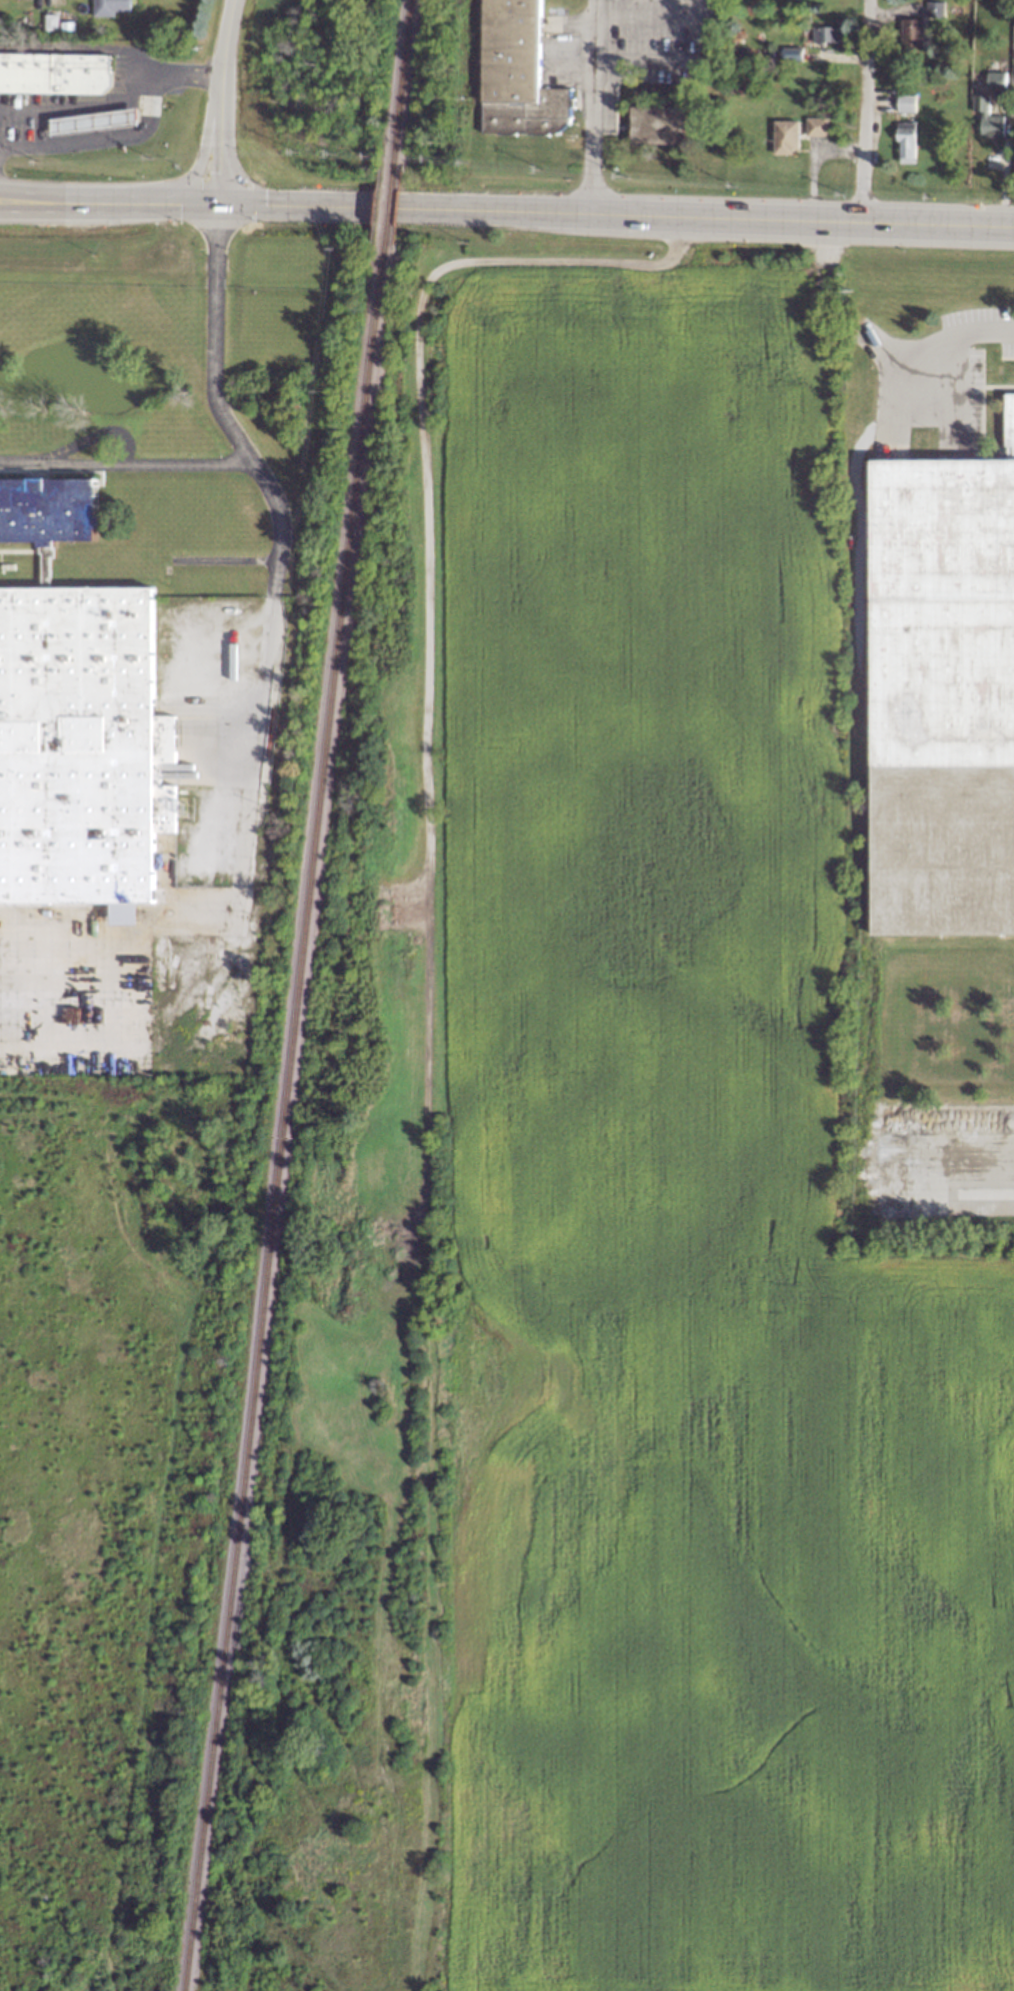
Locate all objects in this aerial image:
building: (110, 7)
building: (934, 9)
building: (51, 22)
building: (827, 34)
building: (912, 34)
road: (230, 37)
road: (81, 49)
building: (516, 72)
building: (54, 73)
road: (158, 75)
building: (996, 80)
railway: (401, 86)
building: (906, 103)
road: (81, 107)
road: (585, 107)
road: (868, 111)
parking lot: (52, 112)
building: (987, 118)
building: (94, 122)
gas station: (94, 122)
building: (657, 125)
building: (816, 126)
building: (785, 136)
road: (221, 140)
road: (70, 141)
building: (906, 143)
road: (204, 160)
road: (1004, 173)
road: (55, 197)
road: (123, 204)
road: (177, 204)
road: (55, 206)
railway: (387, 208)
road: (617, 214)
road: (876, 342)
road: (126, 464)
road: (284, 534)
road: (430, 558)
building: (937, 636)
building: (79, 747)
railway: (283, 1117)
road: (991, 1156)
crop: (619, 1221)

